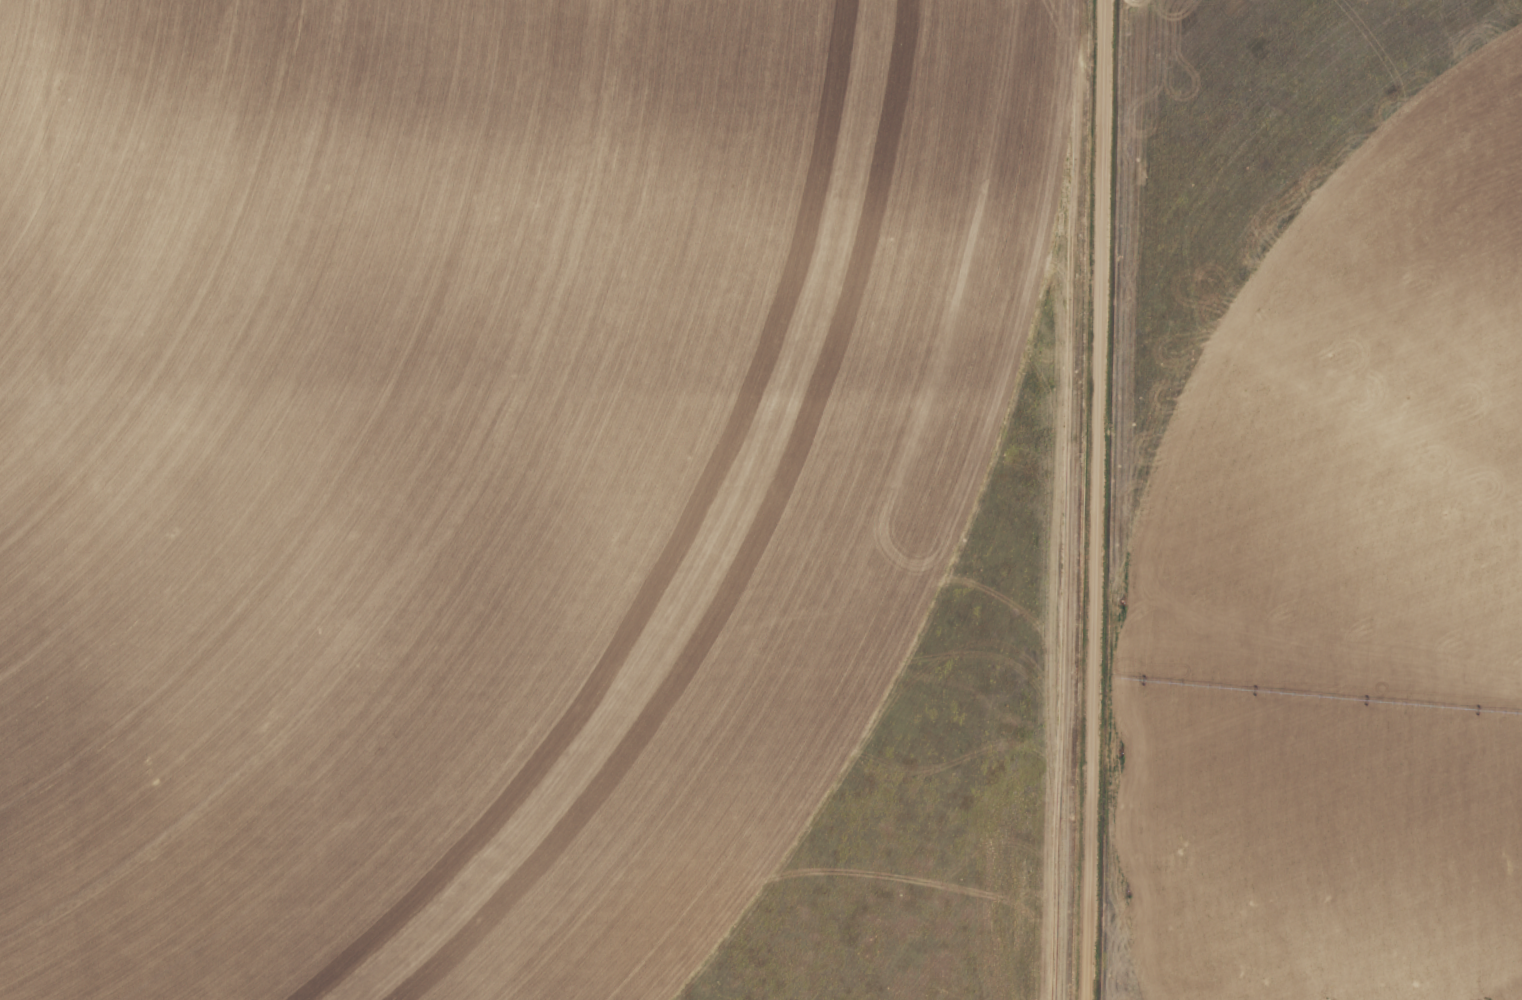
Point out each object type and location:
road: (1095, 500)

